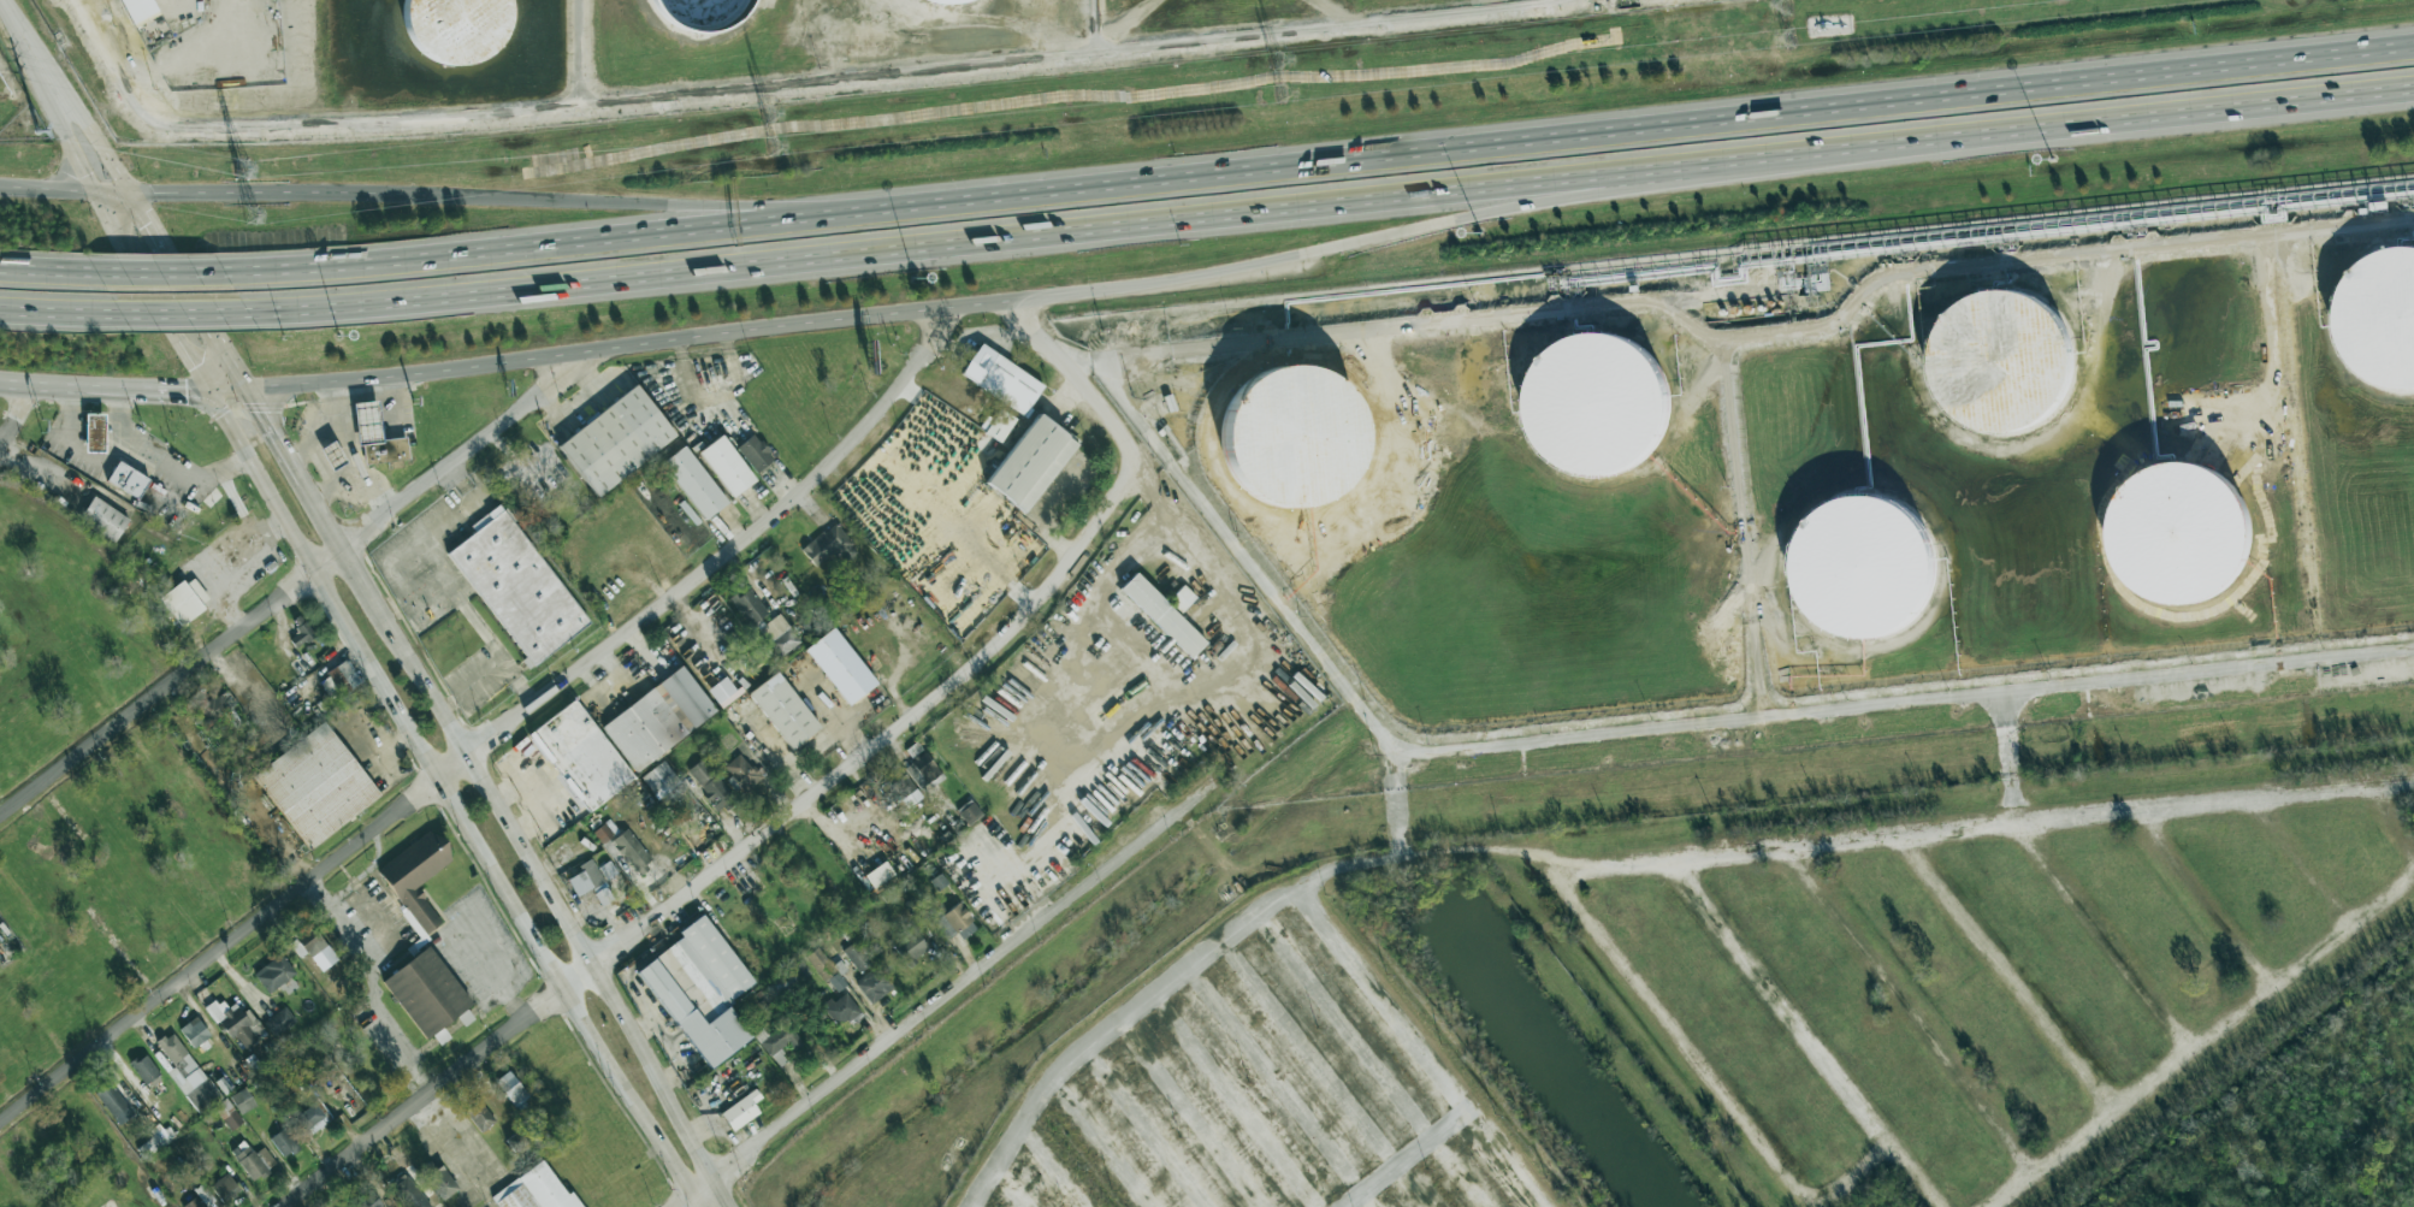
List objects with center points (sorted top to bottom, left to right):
building: (945, 1)
power tower: (1785, 7)
building: (140, 10)
building: (696, 11)
road: (1096, 26)
building: (465, 30)
power tower: (1782, 37)
road: (578, 52)
power tower: (1273, 60)
road: (792, 82)
power tower: (1273, 93)
power tower: (768, 122)
power tower: (31, 125)
road: (1613, 131)
road: (2047, 134)
power tower: (769, 150)
power tower: (268, 168)
road: (1647, 178)
road: (57, 189)
traffic signals: (114, 191)
road: (288, 193)
road: (116, 194)
road: (637, 202)
power tower: (256, 217)
road: (936, 250)
road: (522, 252)
road: (1315, 259)
road: (2059, 265)
road: (30, 272)
road: (146, 273)
road: (980, 298)
road: (1593, 312)
road: (53, 313)
road: (182, 315)
building: (2375, 318)
road: (592, 348)
building: (1995, 362)
road: (1078, 373)
building: (1001, 379)
road: (41, 384)
road: (159, 385)
traffic signals: (235, 387)
road: (394, 400)
building: (1582, 408)
road: (19, 414)
road: (1201, 419)
building: (366, 421)
gas station: (366, 421)
road: (367, 421)
road: (348, 424)
road: (338, 427)
building: (95, 432)
gas station: (95, 432)
building: (616, 439)
building: (1274, 439)
road: (75, 445)
road: (2301, 449)
building: (384, 450)
building: (755, 452)
road: (353, 454)
building: (332, 455)
gas station: (332, 455)
building: (1031, 462)
building: (726, 466)
road: (158, 467)
road: (321, 467)
building: (128, 479)
building: (693, 483)
road: (356, 484)
road: (457, 484)
building: (103, 519)
road: (450, 521)
building: (2170, 542)
road: (425, 543)
building: (826, 546)
road: (1201, 548)
road: (730, 550)
road: (1135, 551)
building: (1851, 572)
road: (295, 579)
parking lot: (446, 586)
building: (516, 591)
road: (428, 598)
building: (1182, 598)
building: (185, 599)
building: (749, 605)
road: (471, 611)
building: (1162, 615)
building: (301, 634)
building: (779, 635)
road: (1150, 647)
road: (497, 649)
building: (840, 665)
road: (478, 678)
building: (338, 680)
road: (519, 680)
building: (244, 685)
road: (1213, 686)
building: (723, 691)
building: (214, 705)
building: (783, 710)
building: (658, 718)
road: (1670, 724)
building: (581, 755)
road: (2016, 757)
building: (927, 768)
building: (700, 771)
building: (742, 773)
building: (657, 776)
building: (315, 785)
road: (2396, 785)
road: (489, 791)
building: (901, 791)
building: (717, 794)
road: (1398, 794)
road: (450, 804)
building: (969, 812)
road: (2004, 827)
building: (632, 851)
road: (736, 854)
road: (1422, 856)
road: (2301, 858)
building: (609, 871)
building: (874, 875)
building: (415, 880)
building: (590, 882)
road: (2199, 898)
building: (954, 922)
road: (2095, 937)
road: (235, 940)
building: (909, 946)
building: (318, 952)
building: (857, 954)
building: (821, 964)
building: (801, 971)
building: (273, 972)
road: (1999, 976)
road: (977, 977)
building: (836, 981)
building: (874, 984)
building: (344, 989)
building: (700, 989)
road: (363, 992)
building: (426, 993)
road: (1777, 1005)
building: (840, 1008)
road: (1901, 1012)
building: (279, 1020)
building: (235, 1023)
road: (1190, 1024)
building: (194, 1031)
road: (1422, 1034)
road: (2199, 1035)
building: (781, 1040)
road: (1104, 1040)
building: (144, 1070)
building: (188, 1073)
building: (223, 1085)
building: (513, 1090)
building: (242, 1100)
road: (1736, 1100)
building: (113, 1104)
building: (741, 1111)
building: (227, 1113)
building: (478, 1113)
building: (312, 1118)
building: (283, 1142)
road: (1416, 1155)
building: (253, 1160)
building: (439, 1179)
building: (224, 1187)
building: (534, 1190)
building: (407, 1193)
road: (699, 1195)
building: (367, 1200)

